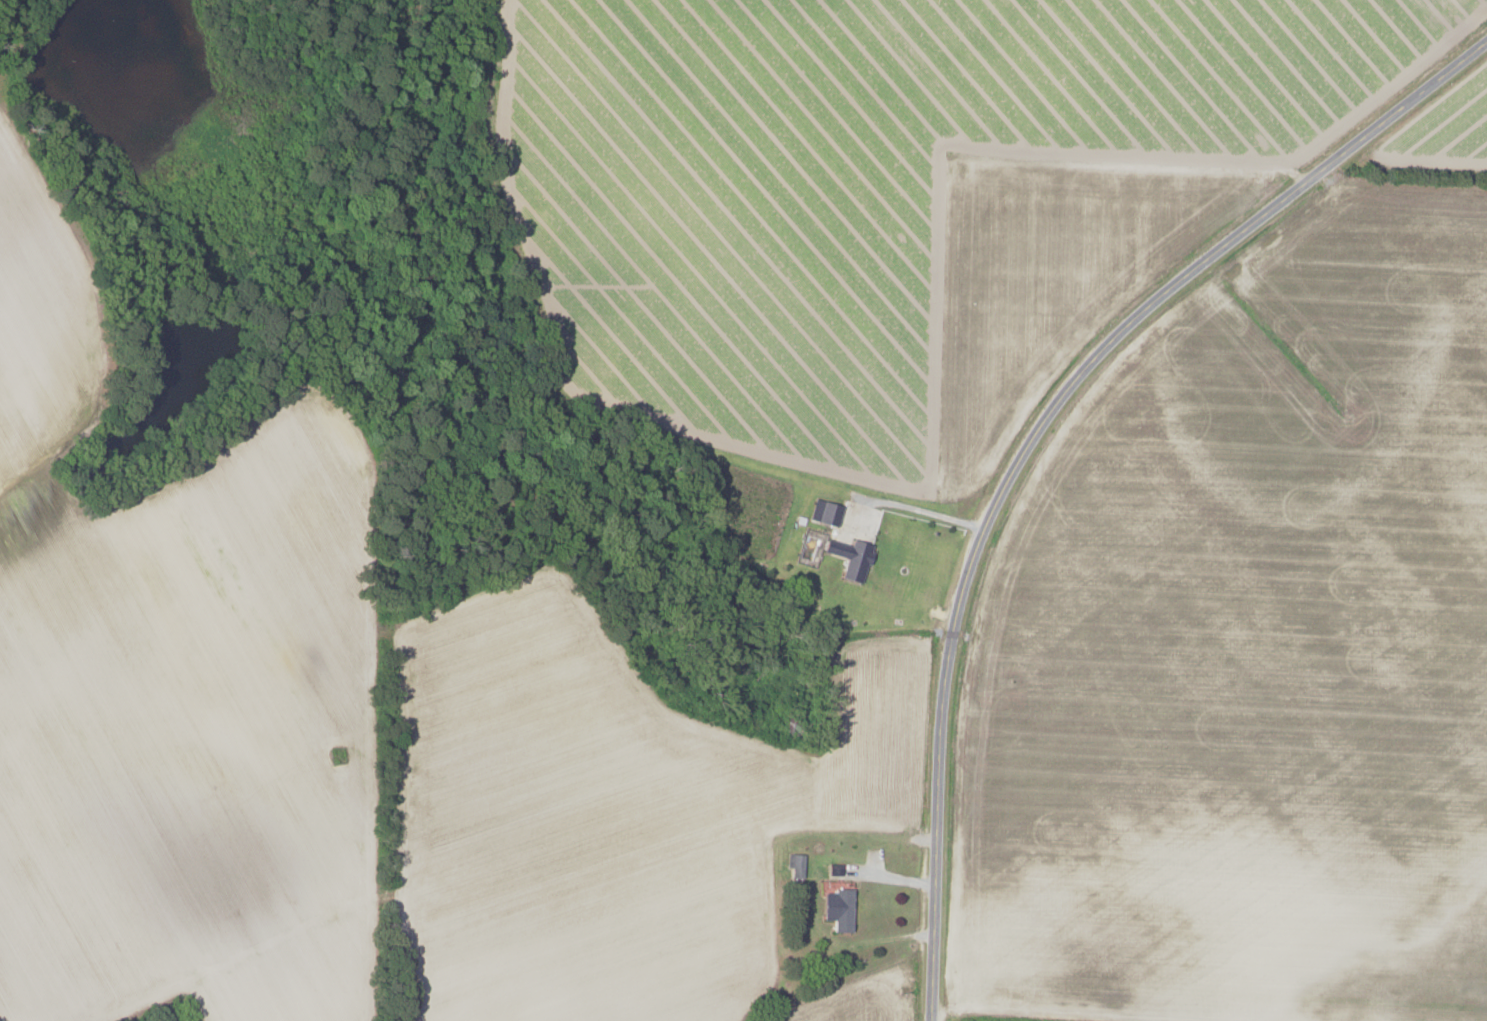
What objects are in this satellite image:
road: (1035, 436)
road: (918, 509)
building: (823, 512)
building: (849, 557)
building: (794, 866)
building: (836, 909)

